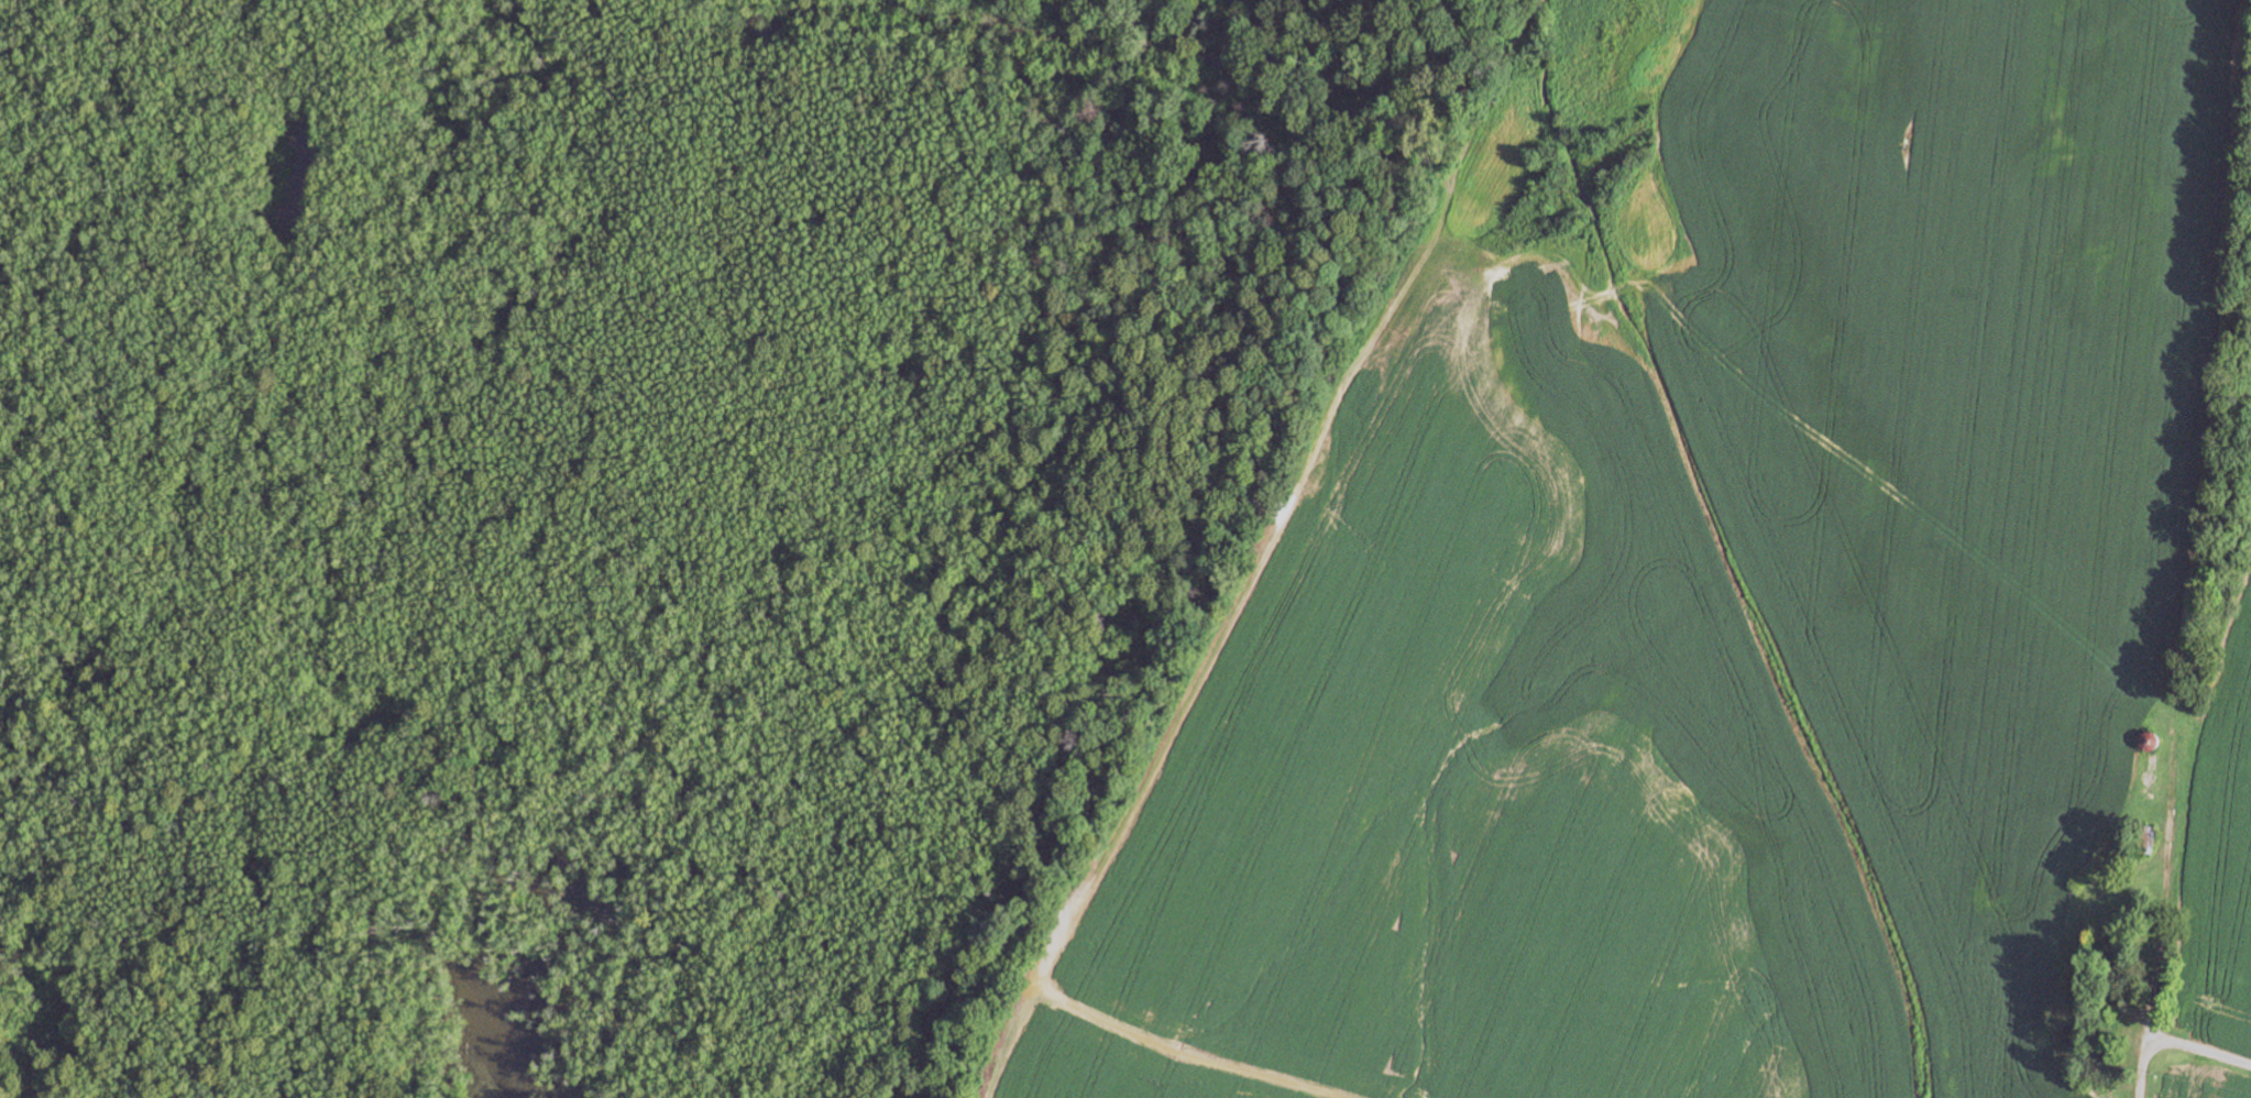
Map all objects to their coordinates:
road: (2176, 1042)

